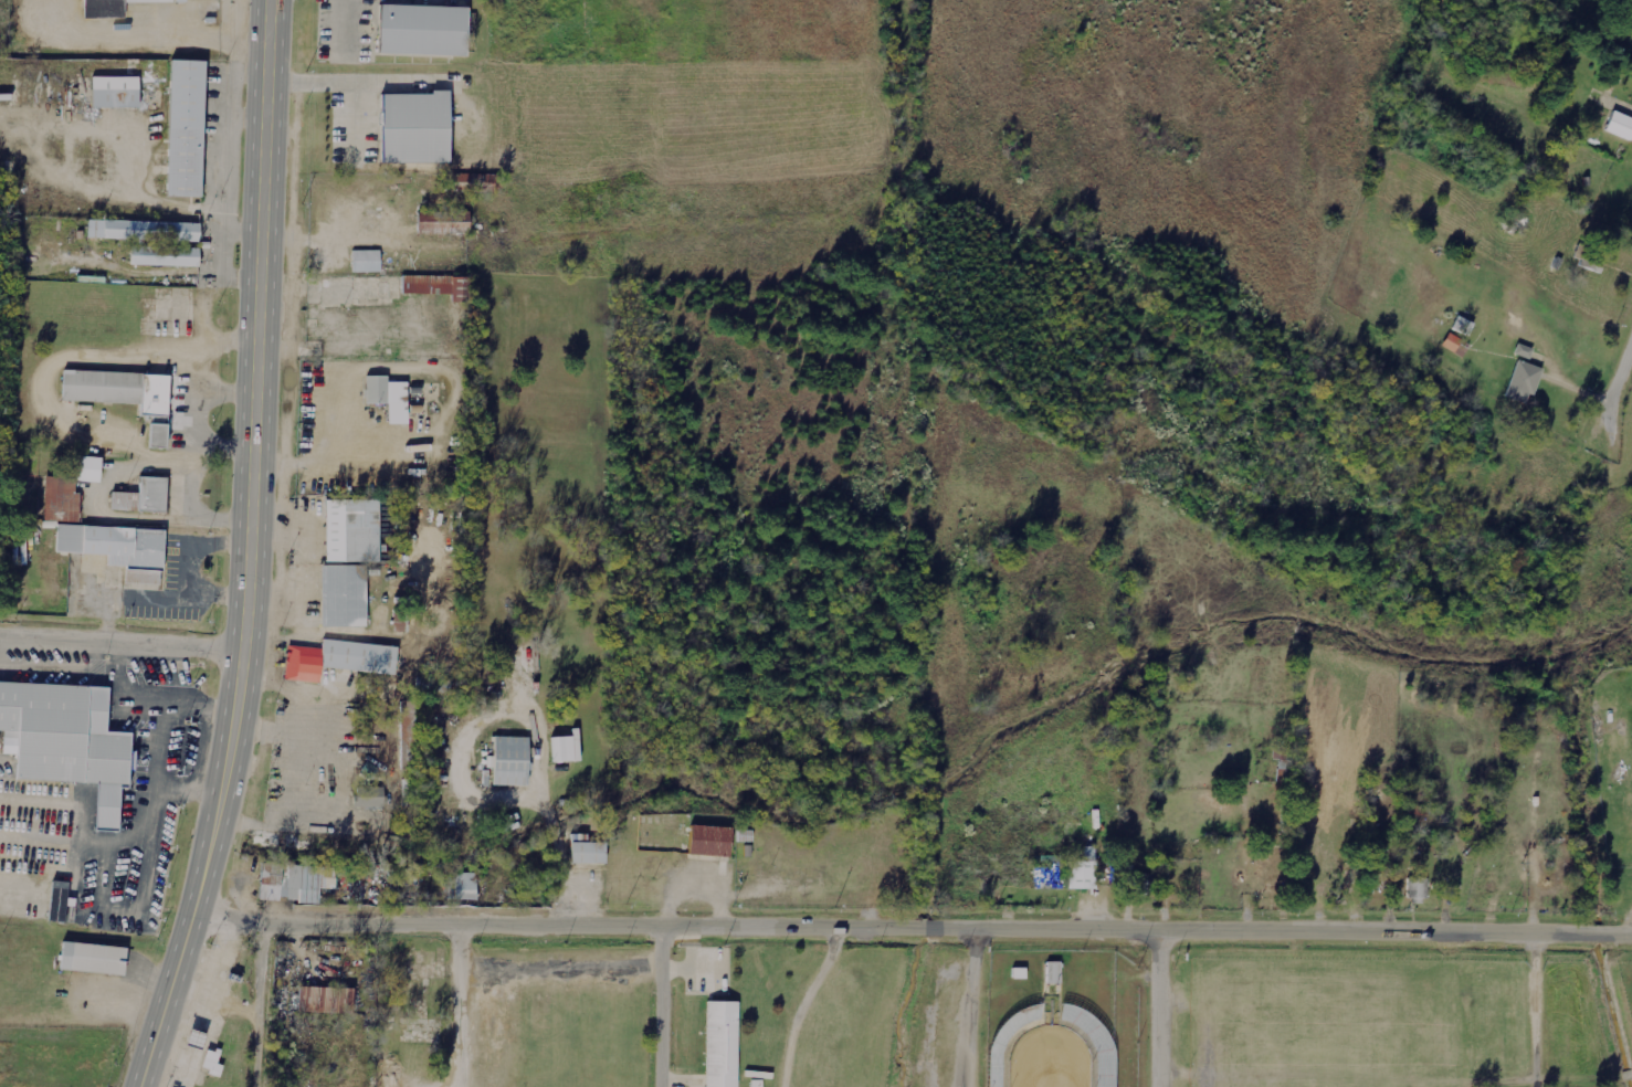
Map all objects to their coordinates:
building: (113, 8)
building: (421, 32)
building: (112, 83)
road: (349, 86)
building: (1620, 125)
building: (185, 129)
building: (412, 129)
building: (476, 182)
building: (444, 223)
building: (143, 232)
building: (164, 256)
building: (364, 262)
building: (434, 286)
building: (349, 291)
building: (1523, 351)
building: (1523, 382)
road: (1618, 382)
building: (124, 398)
building: (387, 398)
building: (67, 492)
building: (141, 498)
building: (360, 531)
building: (113, 547)
road: (253, 550)
building: (341, 598)
road: (123, 639)
building: (337, 661)
building: (410, 734)
building: (67, 742)
building: (566, 749)
building: (509, 762)
building: (370, 798)
building: (709, 842)
building: (587, 854)
building: (1084, 872)
building: (293, 883)
building: (1143, 883)
building: (462, 886)
building: (1418, 889)
building: (60, 901)
road: (914, 919)
building: (92, 960)
building: (1020, 973)
building: (1053, 973)
building: (324, 1000)
road: (461, 1002)
road: (662, 1002)
road: (264, 1003)
road: (1162, 1005)
park: (1149, 1014)
building: (1009, 1042)
building: (1091, 1043)
building: (720, 1045)
park: (1049, 1058)

